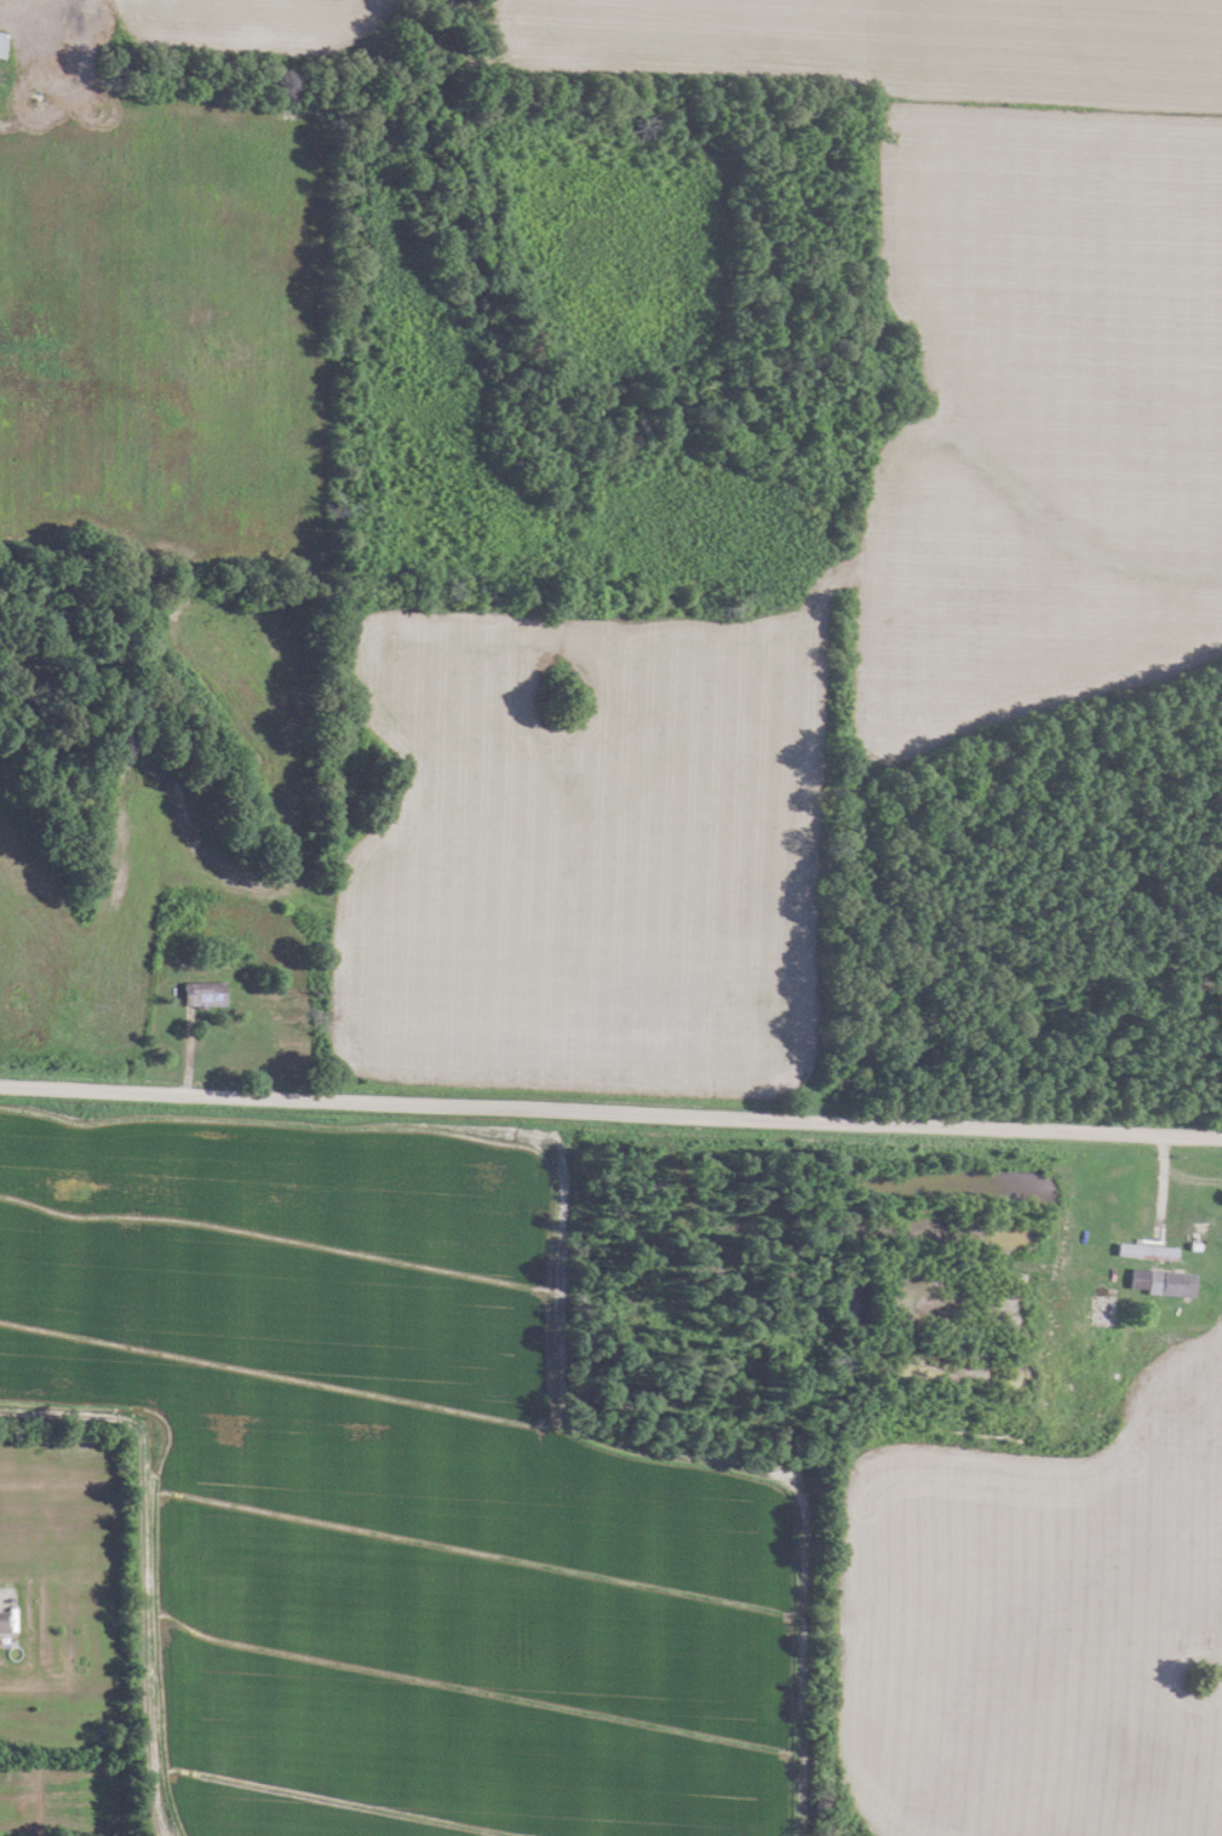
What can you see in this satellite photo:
building: (0, 39)
building: (199, 993)
road: (610, 1112)
road: (1158, 1229)
building: (1157, 1283)
building: (0, 1620)

